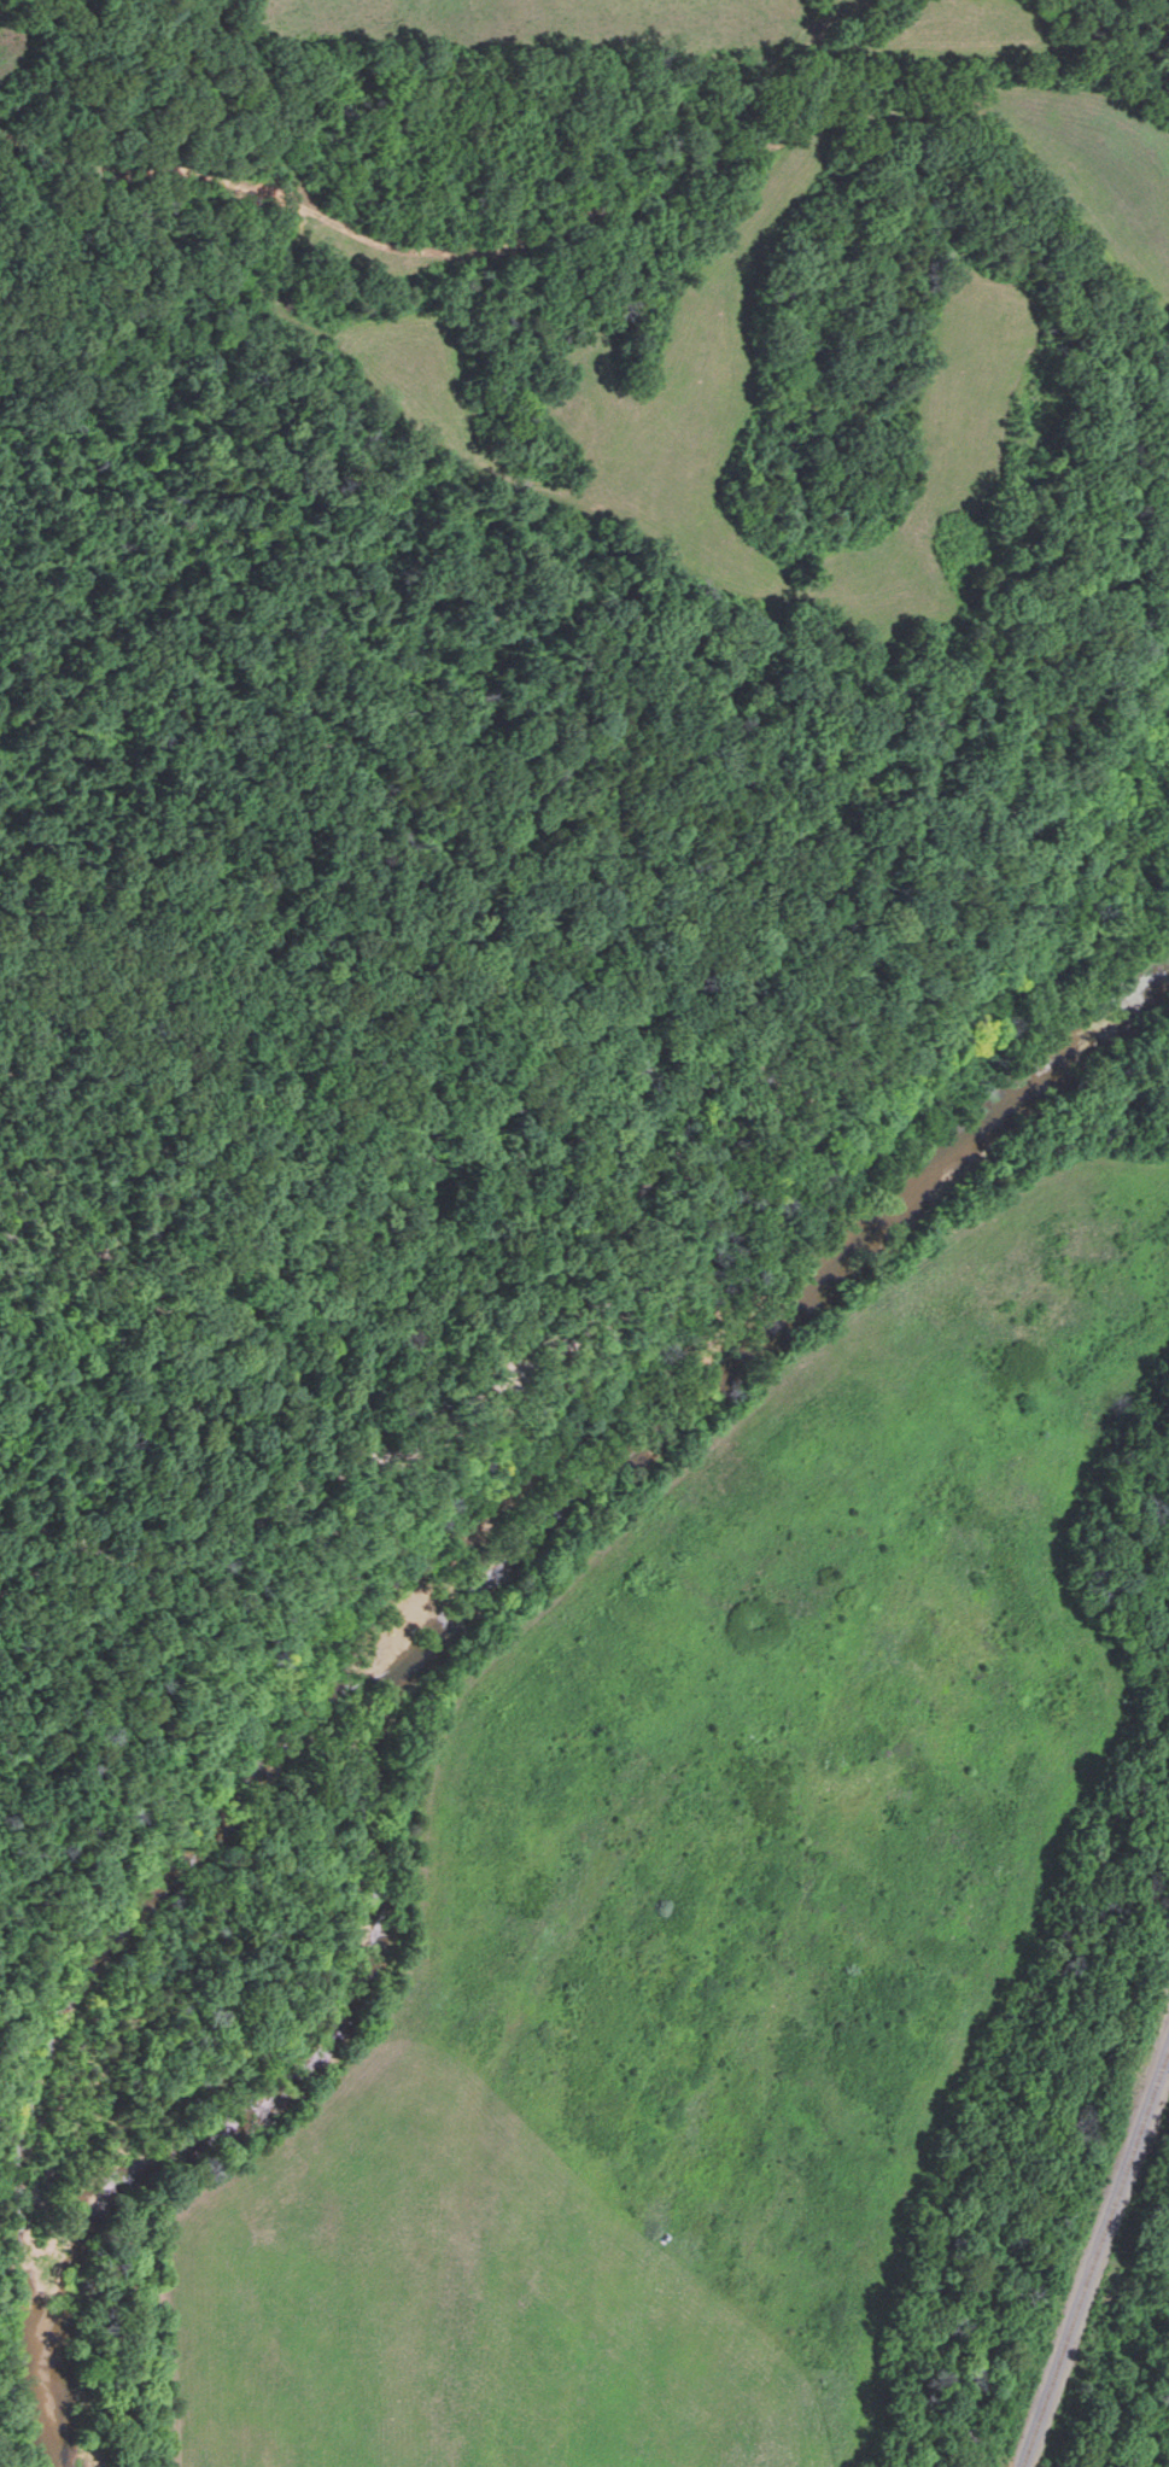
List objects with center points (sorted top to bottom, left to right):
railway: (1093, 2255)

